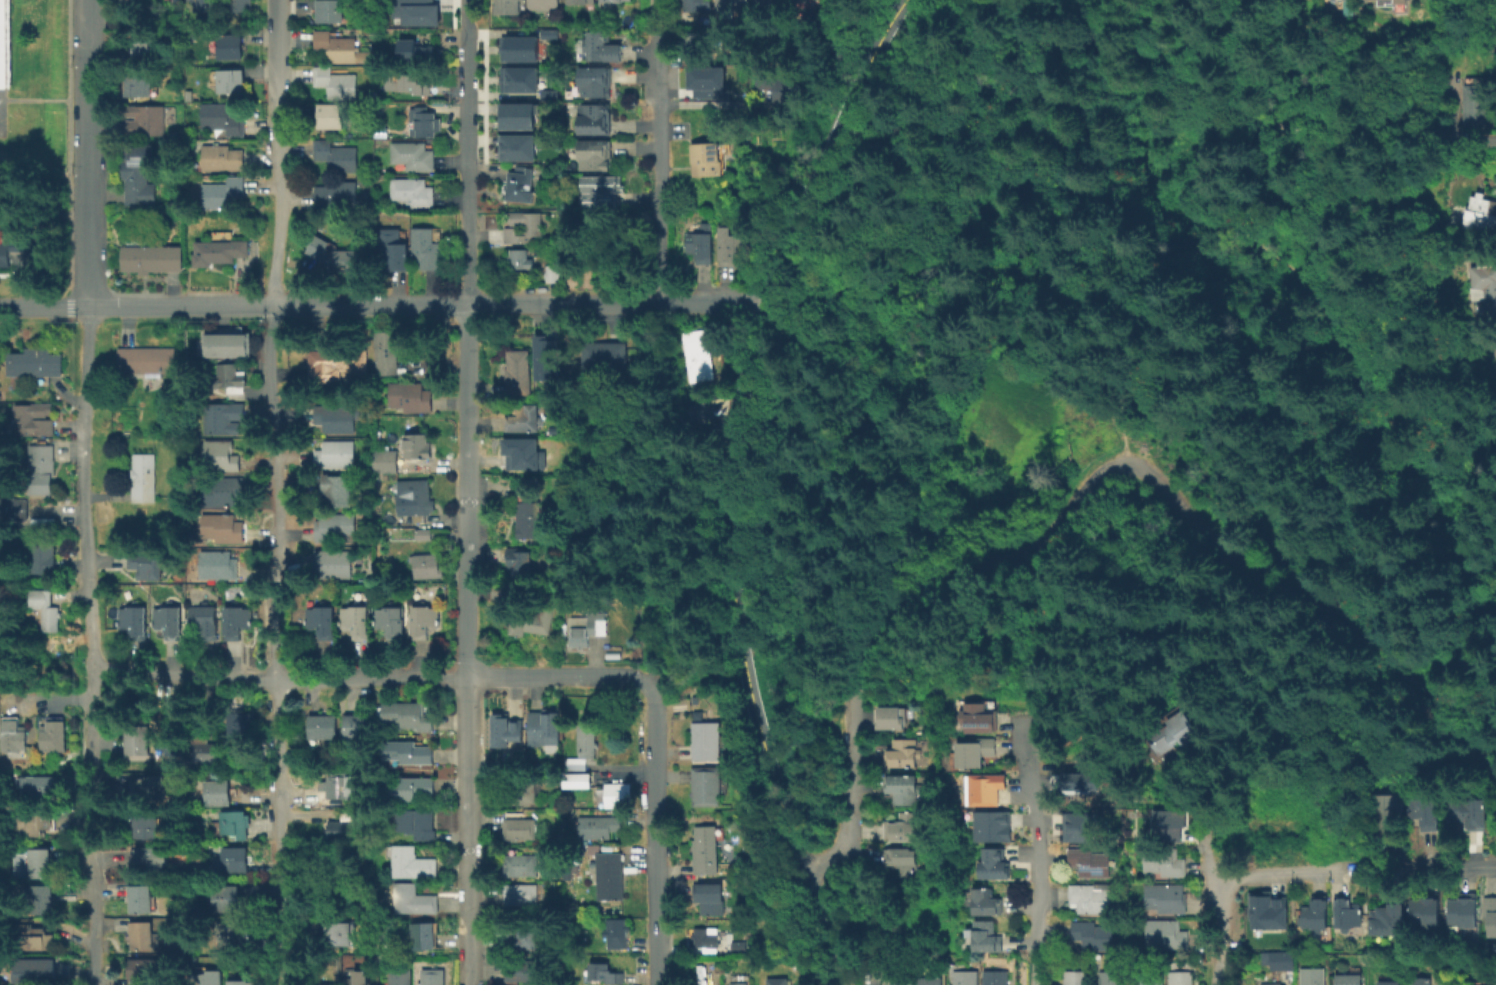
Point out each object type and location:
building: (615, 0)
building: (798, 0)
building: (1326, 0)
building: (582, 1)
building: (1397, 1)
building: (543, 4)
building: (205, 5)
building: (731, 5)
building: (237, 6)
building: (699, 6)
building: (506, 7)
building: (332, 12)
building: (417, 12)
road: (466, 12)
road: (658, 15)
building: (547, 33)
building: (691, 39)
building: (2, 46)
building: (138, 47)
building: (230, 47)
building: (600, 47)
building: (516, 48)
building: (339, 49)
building: (418, 50)
road: (1230, 51)
building: (516, 79)
building: (704, 80)
building: (232, 81)
building: (409, 82)
building: (595, 82)
road: (1173, 82)
building: (335, 84)
building: (130, 86)
park: (33, 87)
building: (780, 88)
road: (466, 93)
building: (547, 94)
building: (1474, 99)
road: (47, 101)
road: (716, 103)
road: (1265, 103)
road: (6, 115)
building: (332, 116)
building: (515, 116)
road: (1268, 117)
building: (223, 118)
building: (596, 119)
building: (142, 121)
building: (426, 123)
road: (1468, 142)
building: (515, 147)
road: (89, 152)
building: (413, 155)
building: (591, 155)
building: (336, 156)
building: (220, 157)
building: (705, 158)
road: (660, 166)
road: (1219, 169)
building: (135, 176)
building: (520, 186)
building: (597, 191)
building: (222, 192)
building: (412, 193)
building: (337, 194)
building: (1482, 211)
building: (523, 226)
road: (465, 233)
road: (1226, 238)
building: (395, 245)
building: (731, 245)
building: (426, 246)
building: (700, 246)
building: (219, 251)
building: (5, 256)
building: (339, 257)
building: (147, 260)
building: (521, 260)
building: (553, 274)
building: (1485, 285)
road: (1080, 291)
road: (382, 305)
road: (1328, 314)
building: (229, 343)
road: (1240, 345)
building: (387, 352)
building: (698, 353)
building: (606, 355)
building: (545, 358)
building: (143, 362)
building: (336, 363)
building: (31, 364)
building: (520, 371)
building: (228, 380)
building: (410, 396)
building: (696, 411)
building: (336, 417)
building: (525, 417)
building: (224, 418)
building: (35, 419)
road: (737, 425)
road: (1378, 433)
building: (416, 444)
building: (521, 453)
building: (336, 454)
building: (222, 456)
building: (388, 461)
road: (1123, 465)
building: (42, 468)
road: (1228, 469)
building: (145, 477)
building: (392, 478)
building: (338, 489)
road: (467, 490)
building: (223, 491)
road: (277, 492)
building: (418, 497)
building: (174, 500)
building: (18, 508)
building: (530, 518)
building: (334, 526)
building: (223, 528)
road: (1428, 528)
building: (424, 534)
building: (42, 553)
building: (515, 560)
building: (334, 562)
road: (86, 563)
building: (147, 564)
building: (219, 565)
building: (426, 565)
building: (179, 579)
building: (513, 594)
building: (48, 608)
building: (323, 620)
building: (393, 620)
building: (426, 620)
building: (168, 621)
building: (204, 621)
building: (236, 621)
building: (357, 621)
building: (135, 622)
building: (533, 623)
building: (587, 628)
road: (559, 674)
road: (279, 677)
road: (69, 696)
building: (409, 716)
building: (981, 716)
building: (892, 718)
building: (242, 723)
building: (361, 726)
road: (1446, 726)
building: (324, 727)
building: (543, 727)
building: (505, 729)
building: (13, 735)
building: (55, 736)
building: (1182, 737)
building: (708, 740)
building: (138, 741)
building: (587, 748)
building: (167, 752)
building: (206, 752)
building: (411, 752)
building: (904, 753)
building: (976, 753)
building: (581, 780)
building: (1088, 781)
road: (849, 785)
building: (708, 786)
building: (36, 787)
building: (152, 787)
building: (346, 787)
building: (415, 788)
building: (902, 789)
building: (991, 789)
building: (522, 792)
building: (219, 793)
building: (621, 795)
building: (1388, 811)
building: (1425, 811)
building: (1466, 812)
building: (39, 823)
building: (1178, 823)
building: (236, 824)
building: (416, 824)
building: (1000, 825)
building: (522, 826)
building: (603, 826)
building: (346, 827)
building: (897, 827)
building: (1087, 827)
building: (148, 828)
building: (1257, 830)
road: (469, 831)
building: (1279, 831)
building: (1302, 831)
road: (656, 832)
building: (708, 850)
road: (1043, 854)
building: (150, 860)
building: (235, 860)
building: (894, 861)
building: (1094, 861)
building: (43, 862)
building: (412, 864)
building: (522, 864)
road: (1447, 864)
building: (1170, 865)
building: (995, 867)
road: (1280, 873)
road: (814, 877)
building: (611, 878)
road: (818, 884)
building: (522, 894)
building: (1094, 898)
building: (44, 899)
building: (143, 899)
building: (228, 899)
building: (410, 899)
building: (709, 899)
building: (1169, 900)
building: (985, 901)
road: (1215, 907)
building: (1276, 910)
building: (1463, 912)
building: (1426, 916)
building: (1490, 916)
building: (1351, 917)
building: (1317, 918)
road: (93, 924)
building: (1390, 925)
building: (232, 929)
road: (819, 929)
building: (143, 933)
building: (341, 933)
building: (618, 933)
road: (837, 934)
building: (424, 936)
building: (523, 936)
building: (984, 936)
building: (1096, 936)
building: (1169, 936)
building: (43, 937)
building: (708, 938)
building: (1286, 963)
building: (523, 969)
building: (147, 970)
building: (38, 971)
building: (608, 973)
building: (400, 976)
building: (433, 977)
building: (963, 977)
building: (994, 977)
building: (1076, 977)
building: (1316, 977)
building: (208, 978)
building: (358, 979)
building: (1113, 979)
building: (1151, 979)
building: (1182, 979)
building: (924, 980)
building: (774, 981)
building: (889, 981)
building: (1352, 981)
building: (241, 982)
building: (1390, 982)
building: (741, 983)
building: (1272, 983)
building: (1424, 983)
building: (323, 984)

